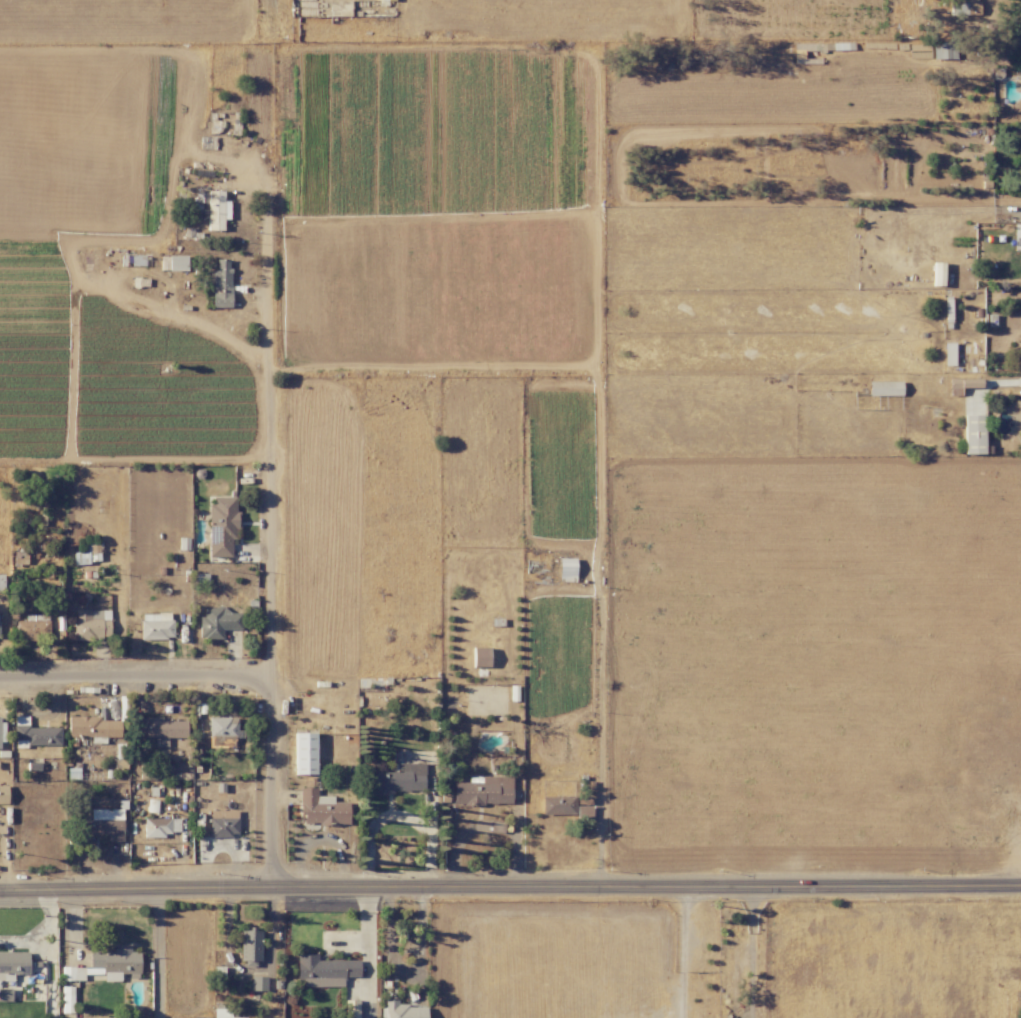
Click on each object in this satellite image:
building: (966, 7)
road: (993, 44)
building: (1020, 70)
building: (214, 208)
building: (177, 263)
building: (937, 274)
building: (221, 284)
building: (962, 385)
building: (884, 388)
building: (1019, 415)
building: (973, 434)
building: (222, 525)
road: (267, 552)
building: (566, 569)
building: (1, 582)
building: (218, 623)
building: (91, 624)
building: (156, 626)
building: (33, 628)
building: (480, 657)
road: (134, 677)
building: (92, 727)
building: (2, 730)
building: (159, 730)
building: (223, 730)
building: (34, 734)
building: (304, 753)
building: (397, 779)
building: (483, 790)
building: (3, 795)
building: (558, 805)
building: (322, 809)
road: (399, 818)
building: (223, 823)
building: (102, 824)
building: (159, 827)
road: (510, 886)
road: (40, 929)
building: (250, 947)
road: (752, 951)
road: (683, 952)
road: (368, 953)
building: (13, 963)
building: (111, 965)
building: (325, 971)
building: (258, 983)
building: (401, 1010)
building: (221, 1013)

